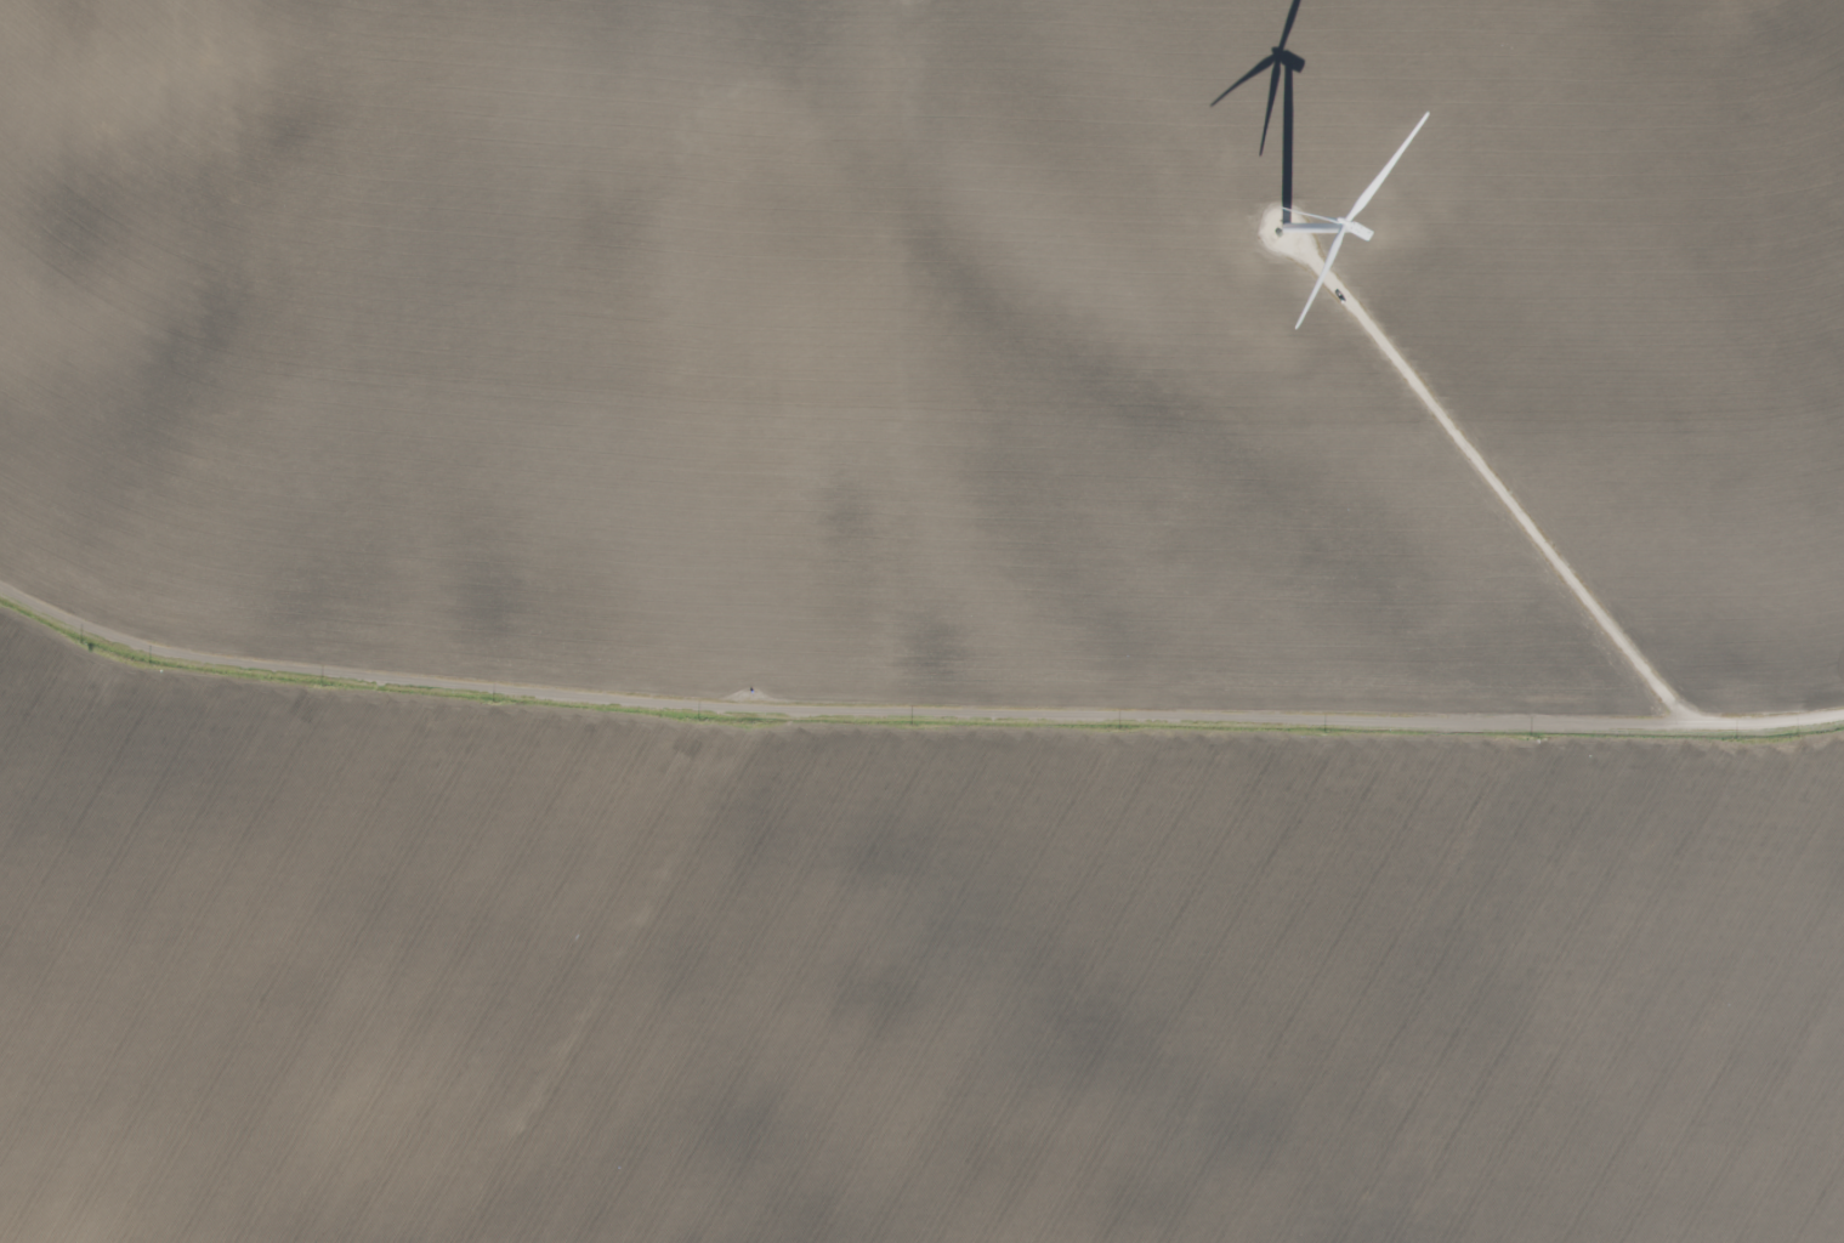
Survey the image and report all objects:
wind turbine: (1283, 228)
road: (912, 725)

